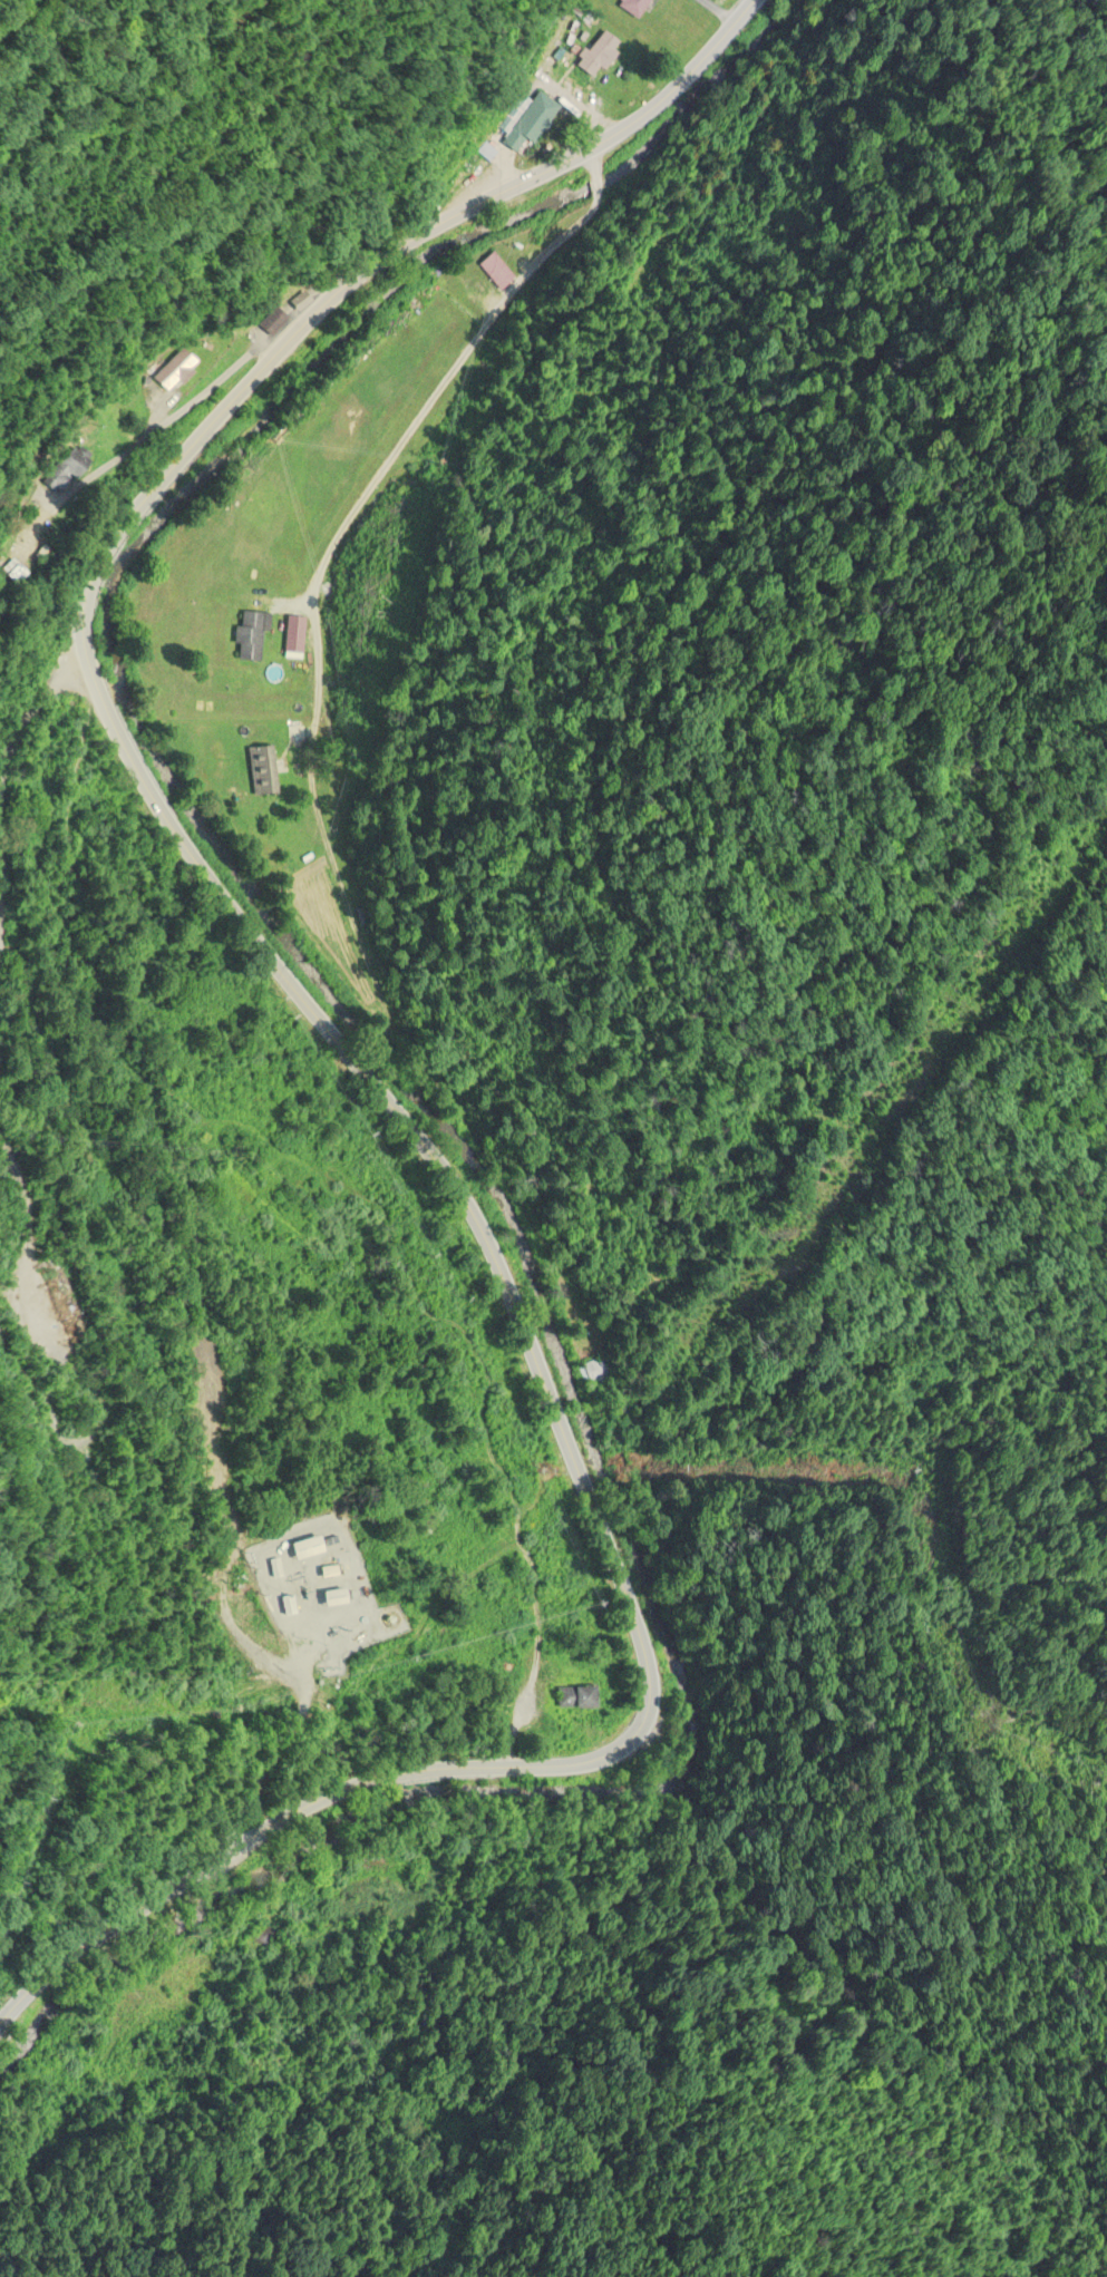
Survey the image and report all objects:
building: (632, 7)
building: (598, 56)
building: (497, 272)
building: (298, 302)
building: (175, 372)
road: (167, 424)
building: (21, 546)
building: (253, 636)
building: (298, 638)
road: (71, 868)
road: (348, 1063)
building: (591, 1373)
building: (309, 1549)
building: (337, 1598)
building: (574, 1700)

